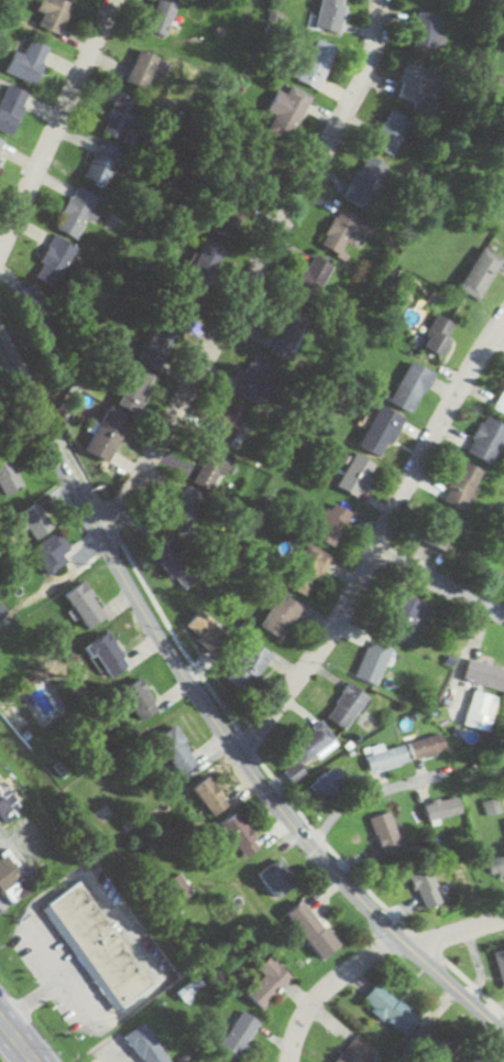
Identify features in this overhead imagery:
building: (51, 14)
building: (329, 14)
building: (162, 15)
building: (425, 31)
building: (26, 61)
building: (315, 63)
building: (142, 68)
building: (413, 84)
building: (10, 107)
building: (285, 111)
building: (120, 117)
road: (52, 124)
building: (390, 132)
building: (0, 142)
building: (100, 164)
building: (364, 182)
building: (502, 210)
building: (76, 212)
building: (343, 230)
building: (54, 257)
road: (253, 270)
building: (314, 273)
building: (479, 273)
building: (32, 314)
road: (500, 325)
building: (437, 335)
building: (156, 346)
building: (255, 379)
building: (134, 384)
building: (409, 387)
building: (500, 402)
building: (228, 422)
building: (379, 431)
building: (105, 433)
building: (485, 440)
building: (210, 468)
building: (8, 475)
building: (354, 476)
building: (459, 486)
building: (184, 509)
building: (34, 521)
building: (329, 523)
building: (436, 528)
road: (375, 535)
road: (118, 545)
building: (50, 553)
building: (174, 562)
building: (305, 570)
road: (437, 578)
building: (84, 605)
building: (2, 611)
building: (278, 615)
building: (404, 616)
building: (205, 630)
building: (106, 654)
building: (371, 661)
building: (248, 667)
building: (482, 674)
building: (138, 698)
building: (475, 703)
building: (344, 705)
building: (47, 706)
building: (310, 743)
building: (425, 746)
building: (175, 750)
building: (385, 758)
building: (293, 772)
building: (326, 783)
building: (208, 794)
building: (6, 804)
building: (490, 806)
building: (439, 808)
building: (503, 824)
building: (238, 833)
building: (383, 833)
road: (415, 865)
building: (494, 866)
building: (275, 876)
building: (11, 880)
building: (420, 882)
road: (346, 912)
road: (450, 924)
building: (309, 928)
building: (95, 945)
building: (498, 964)
building: (266, 980)
road: (338, 993)
building: (385, 1007)
building: (238, 1032)
road: (17, 1039)
building: (145, 1043)
building: (354, 1051)
building: (463, 1061)

